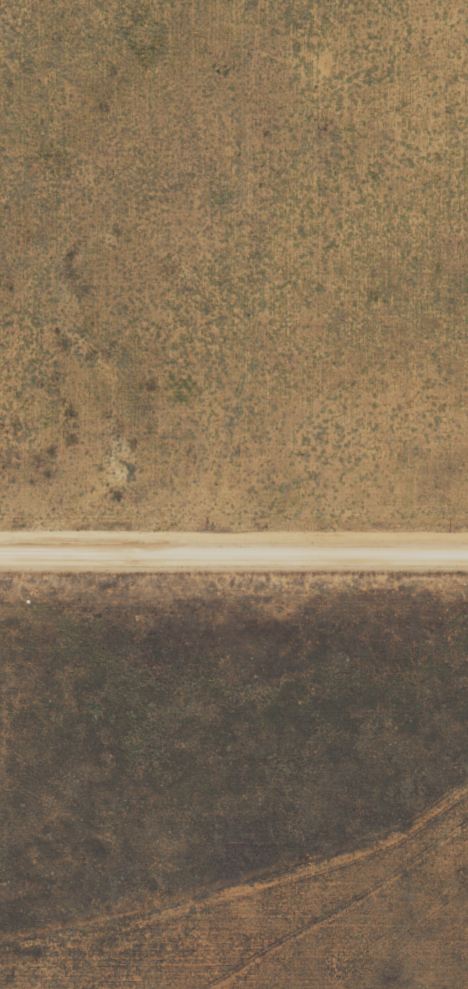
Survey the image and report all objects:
road: (234, 555)

